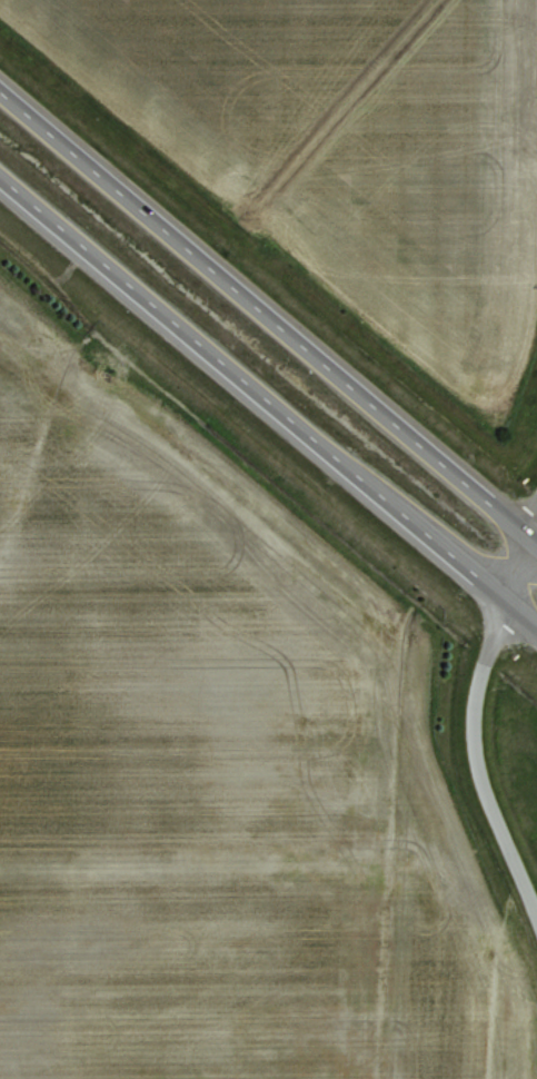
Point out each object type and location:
road: (268, 311)
road: (268, 407)
road: (470, 710)

